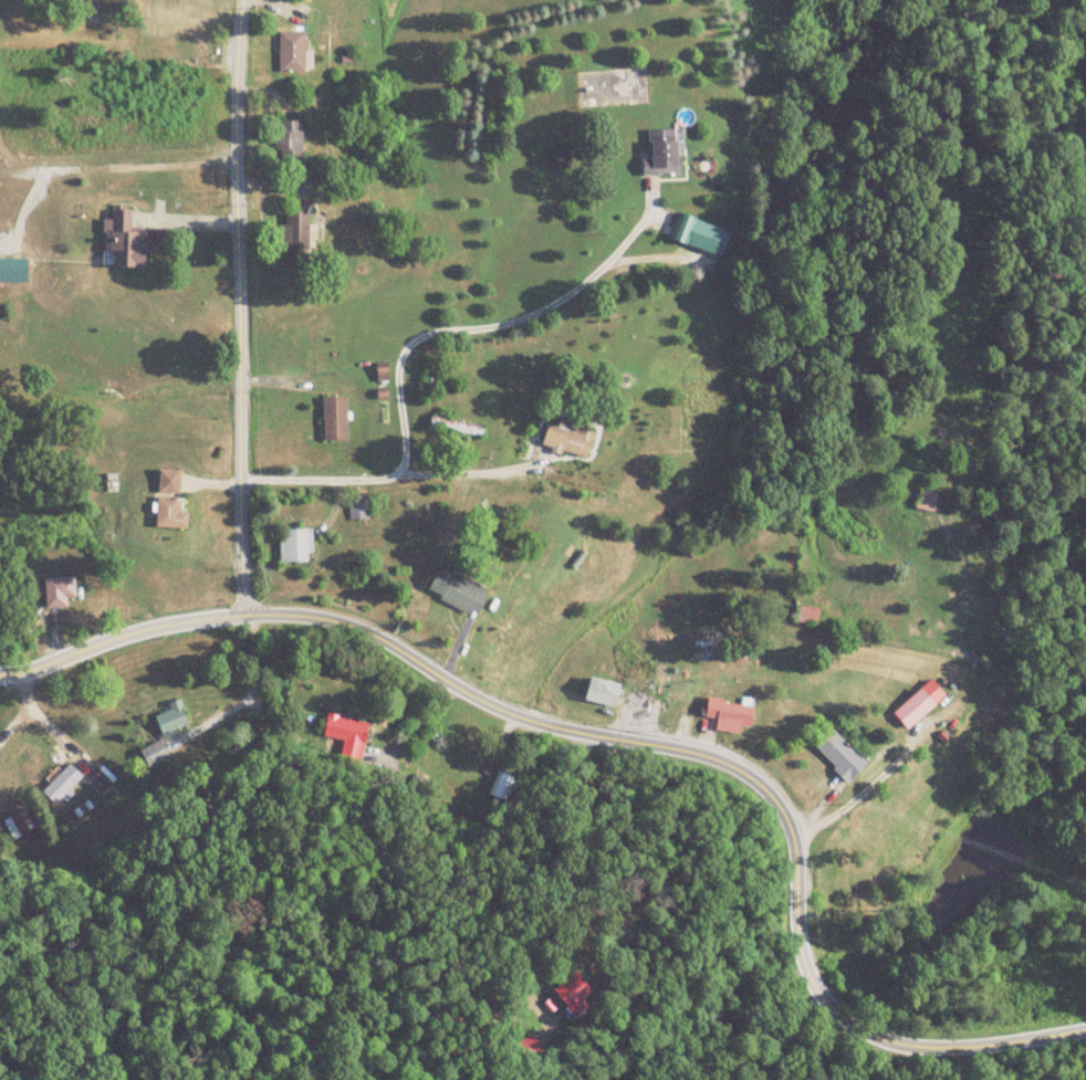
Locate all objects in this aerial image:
building: (294, 54)
building: (290, 140)
building: (664, 151)
building: (697, 234)
building: (299, 239)
building: (123, 241)
building: (14, 270)
road: (238, 307)
road: (490, 328)
building: (335, 419)
building: (570, 439)
road: (364, 473)
building: (927, 497)
building: (170, 501)
building: (359, 508)
building: (297, 546)
building: (460, 590)
building: (60, 593)
building: (706, 638)
building: (604, 692)
building: (918, 706)
building: (730, 715)
building: (173, 719)
building: (344, 731)
road: (623, 740)
building: (155, 754)
building: (842, 756)
building: (100, 780)
building: (63, 785)
building: (500, 786)

